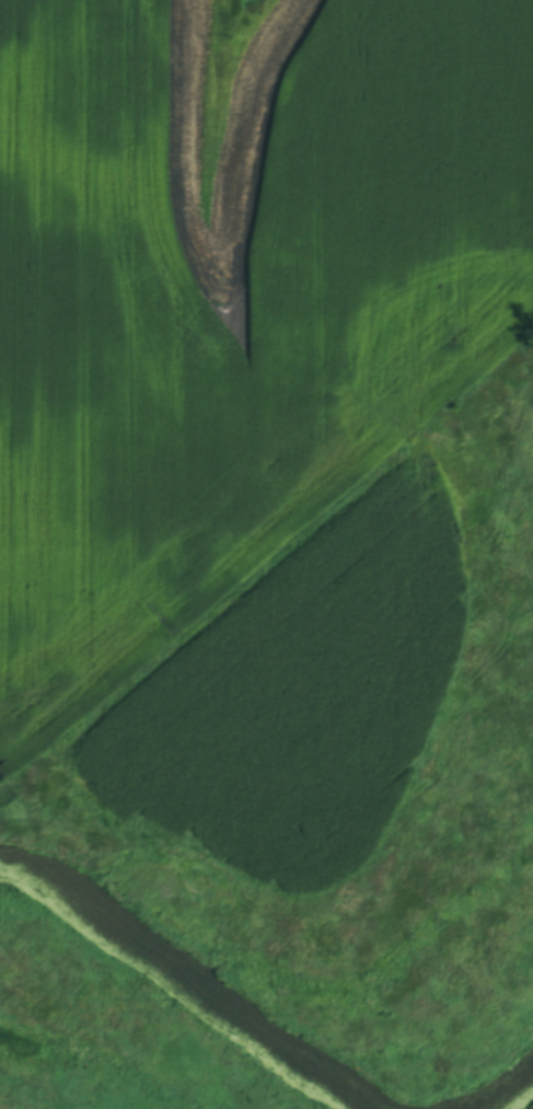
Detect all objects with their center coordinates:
river: (201, 979)
river: (510, 1097)

